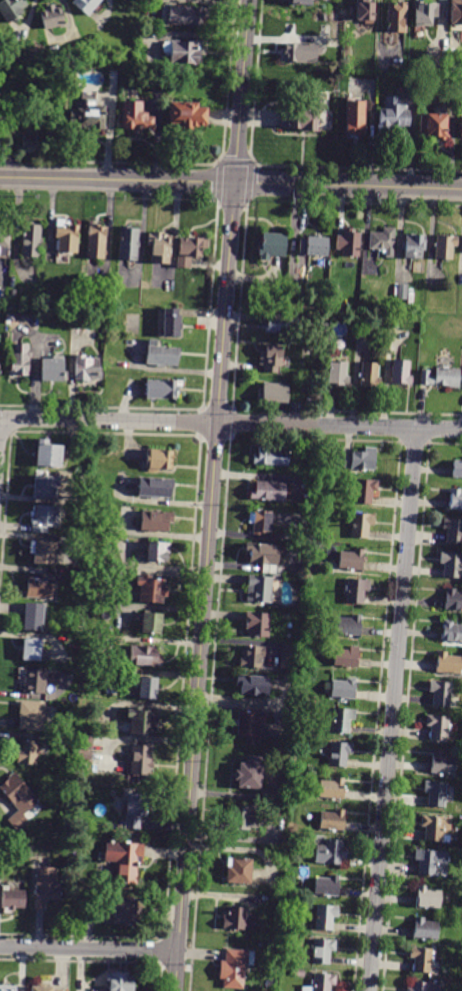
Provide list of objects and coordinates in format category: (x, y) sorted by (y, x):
building: (298, 3)
building: (85, 5)
building: (11, 9)
building: (361, 10)
building: (455, 11)
building: (423, 12)
building: (183, 15)
building: (52, 17)
building: (396, 17)
building: (181, 51)
building: (301, 51)
building: (433, 66)
building: (184, 115)
building: (305, 115)
building: (88, 116)
building: (392, 116)
building: (132, 118)
building: (354, 118)
building: (432, 125)
building: (460, 126)
building: (31, 139)
road: (115, 179)
traffic signals: (231, 182)
road: (346, 185)
building: (66, 237)
building: (30, 239)
building: (4, 241)
building: (383, 241)
building: (96, 242)
building: (348, 242)
building: (128, 243)
building: (313, 245)
building: (413, 245)
building: (271, 246)
building: (445, 246)
building: (160, 247)
building: (189, 250)
building: (402, 292)
building: (13, 294)
building: (112, 299)
building: (112, 313)
building: (331, 317)
building: (169, 323)
building: (282, 324)
building: (161, 354)
building: (272, 358)
building: (20, 359)
building: (87, 368)
building: (53, 369)
building: (401, 372)
building: (338, 373)
building: (370, 374)
building: (440, 377)
building: (161, 389)
building: (273, 392)
road: (231, 423)
building: (48, 453)
building: (271, 456)
building: (159, 459)
building: (359, 459)
building: (457, 469)
building: (44, 485)
building: (155, 487)
building: (364, 490)
building: (268, 491)
road: (212, 495)
building: (456, 499)
building: (45, 518)
building: (155, 521)
building: (260, 521)
building: (360, 524)
building: (111, 529)
building: (453, 530)
building: (43, 552)
building: (157, 552)
building: (262, 554)
building: (351, 560)
building: (452, 564)
building: (39, 586)
building: (151, 589)
building: (259, 589)
building: (355, 590)
building: (453, 600)
building: (33, 616)
building: (151, 623)
building: (257, 624)
building: (349, 625)
building: (452, 631)
building: (31, 649)
building: (145, 656)
building: (252, 656)
building: (289, 656)
building: (346, 657)
building: (448, 662)
building: (34, 682)
building: (253, 685)
building: (147, 688)
building: (342, 688)
building: (440, 693)
road: (254, 702)
road: (392, 709)
building: (31, 716)
building: (342, 720)
building: (142, 721)
road: (279, 723)
building: (250, 725)
building: (436, 727)
building: (284, 743)
building: (27, 750)
building: (338, 753)
building: (141, 762)
building: (442, 763)
building: (249, 773)
building: (331, 788)
building: (434, 793)
building: (18, 800)
building: (133, 809)
building: (243, 817)
building: (332, 820)
building: (435, 828)
road: (243, 838)
building: (329, 852)
building: (122, 859)
building: (430, 861)
building: (237, 870)
building: (46, 886)
building: (327, 886)
building: (260, 898)
building: (427, 898)
building: (12, 899)
building: (121, 910)
building: (324, 916)
building: (237, 919)
building: (425, 929)
road: (89, 948)
building: (322, 950)
building: (421, 959)
building: (234, 968)
building: (298, 974)
building: (119, 982)
building: (320, 982)
building: (423, 986)
building: (9, 988)
building: (46, 989)

